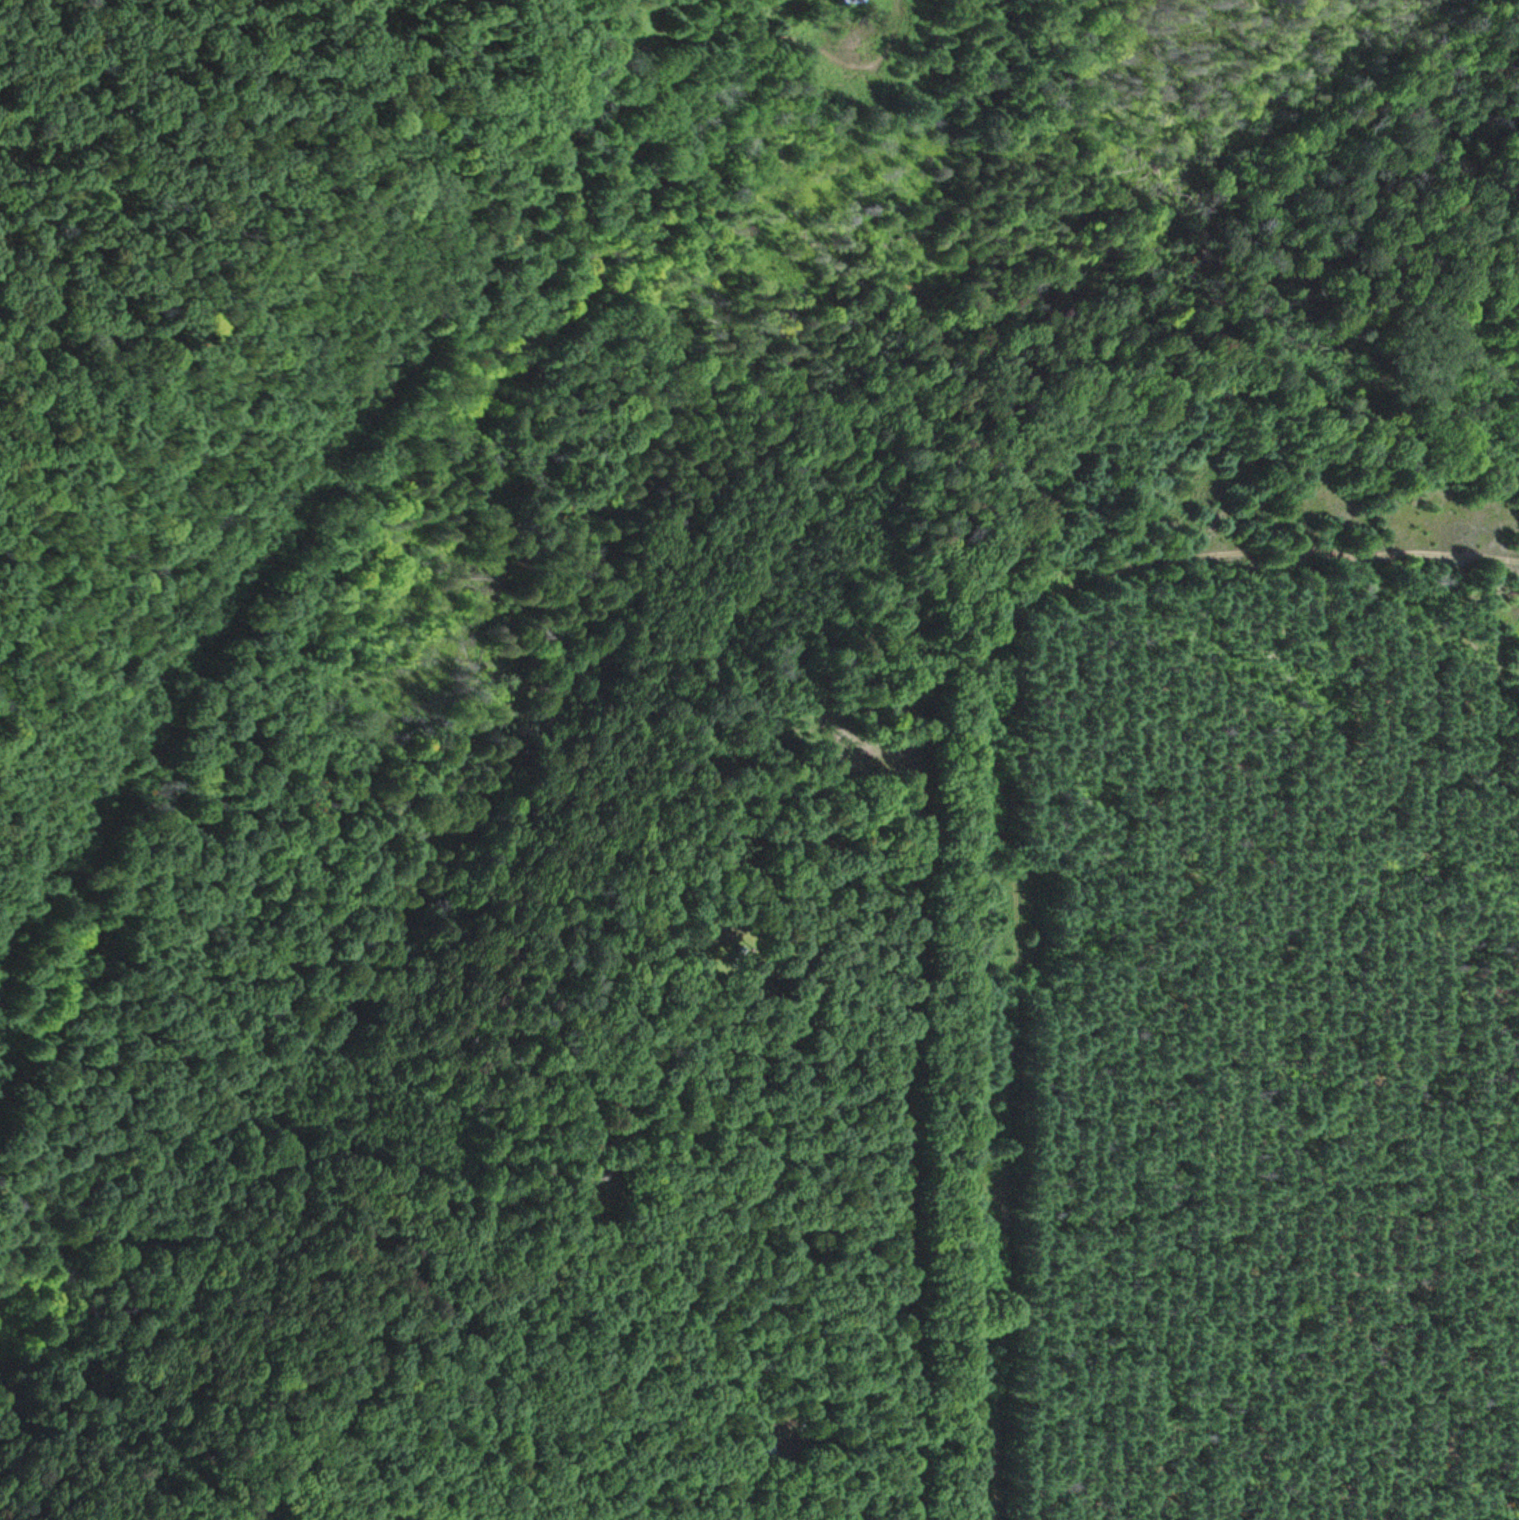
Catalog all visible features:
road: (695, 42)
road: (279, 477)
road: (1024, 816)
road: (908, 940)
building: (759, 1449)

